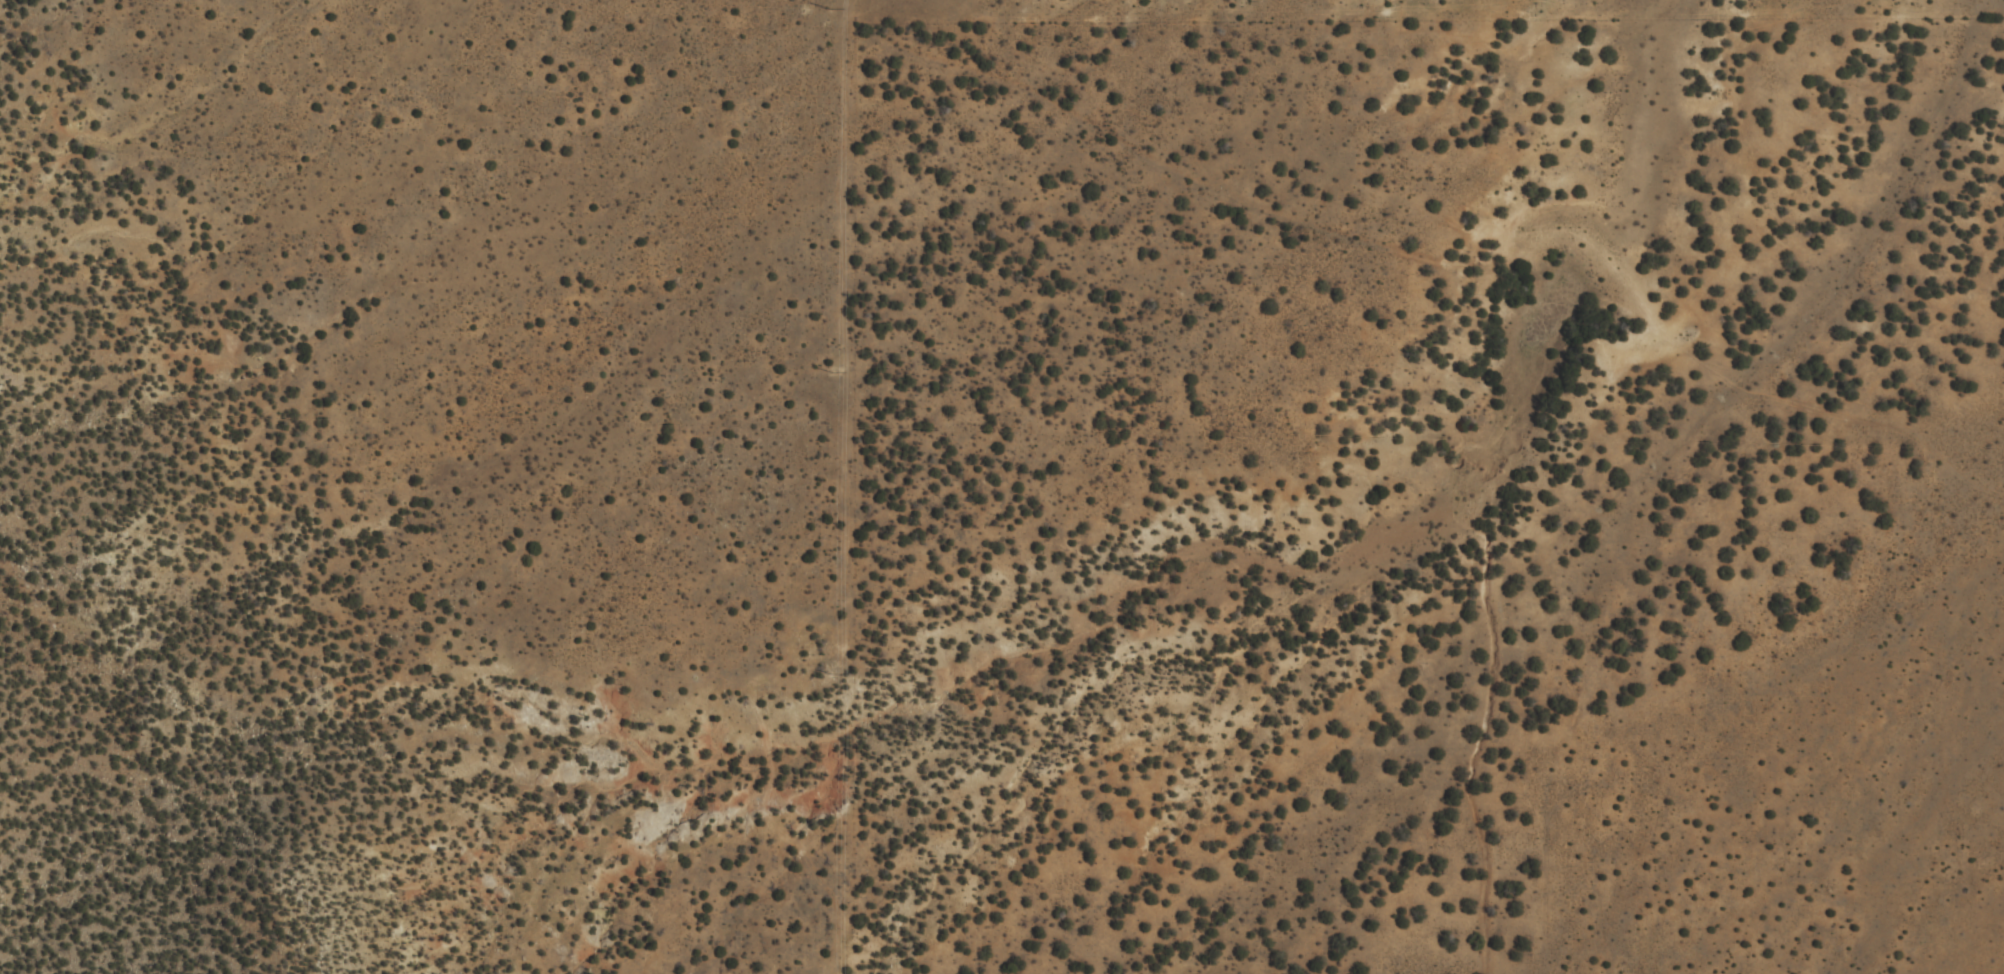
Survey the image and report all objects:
power tower: (824, 6)
power tower: (823, 370)
power tower: (819, 670)

